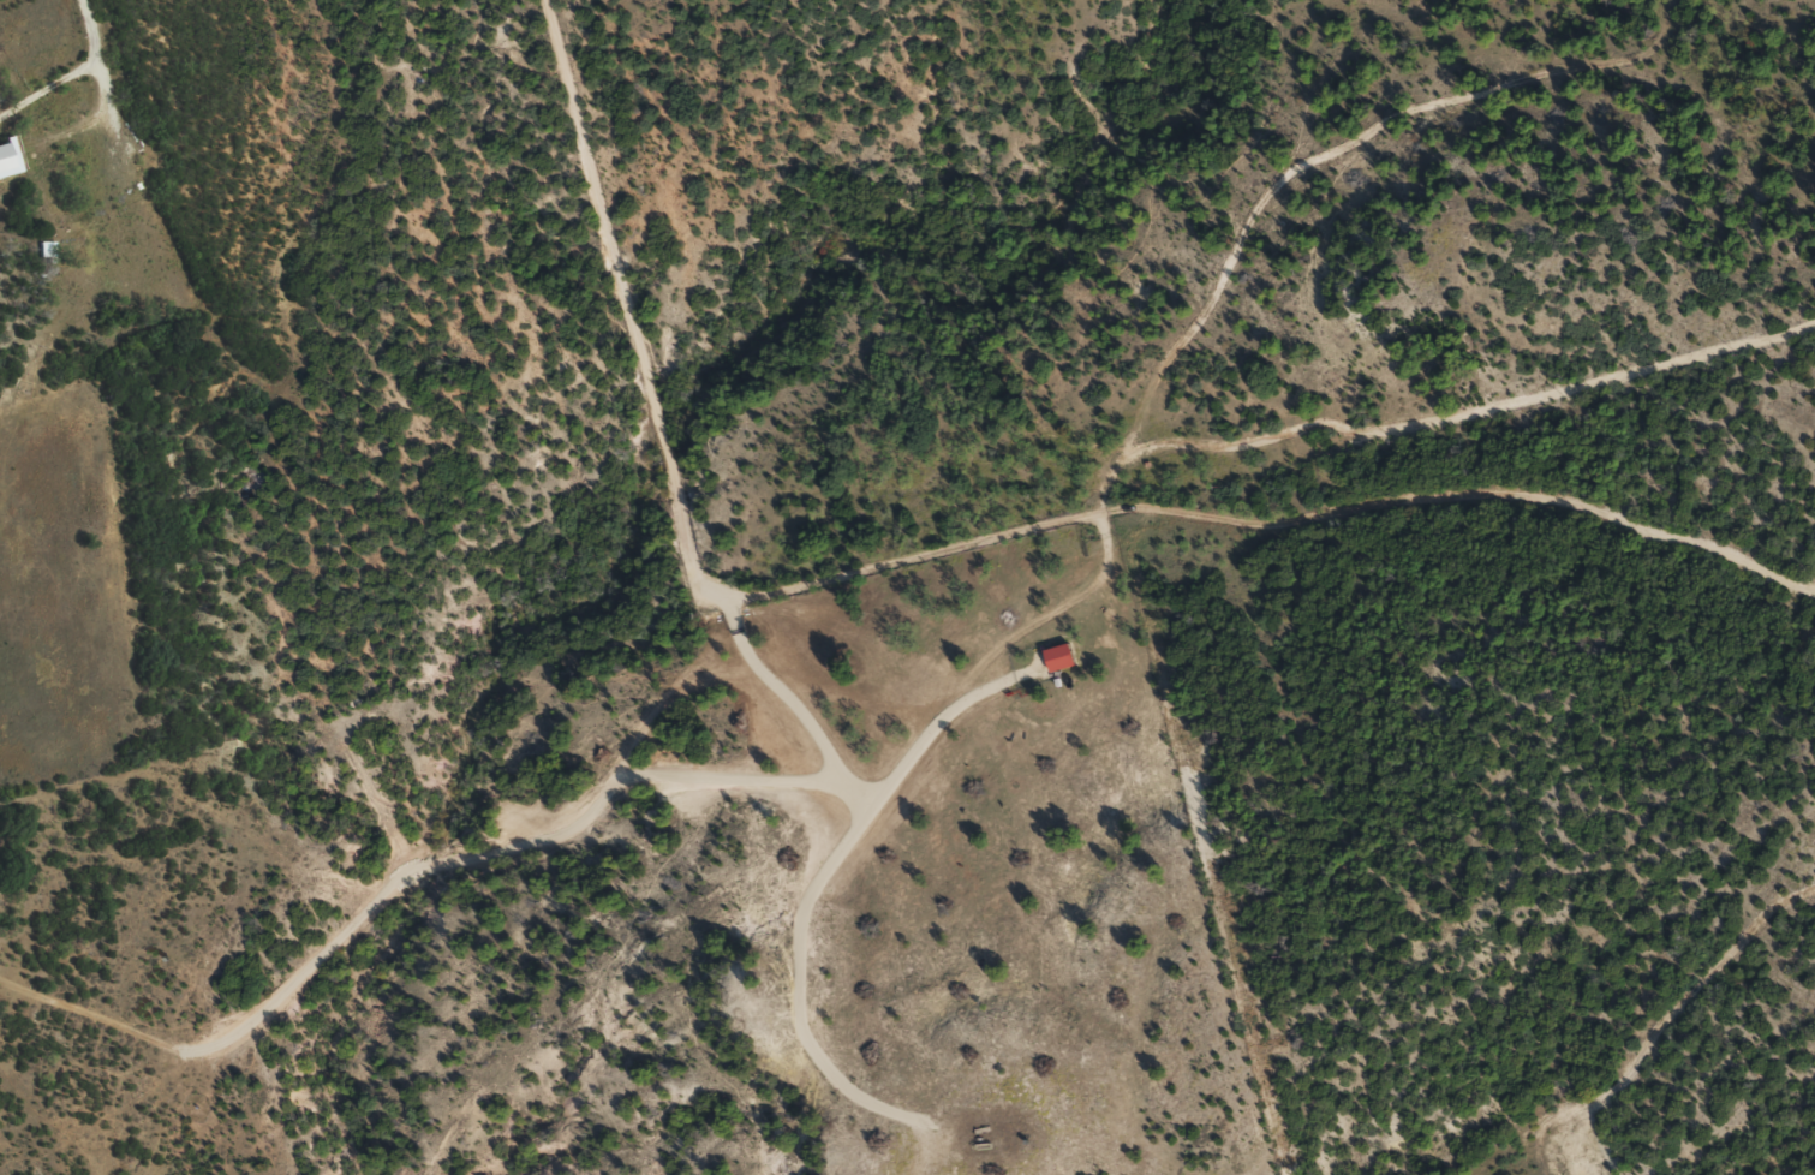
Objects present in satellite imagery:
road: (76, 76)
building: (8, 168)
building: (1062, 668)

